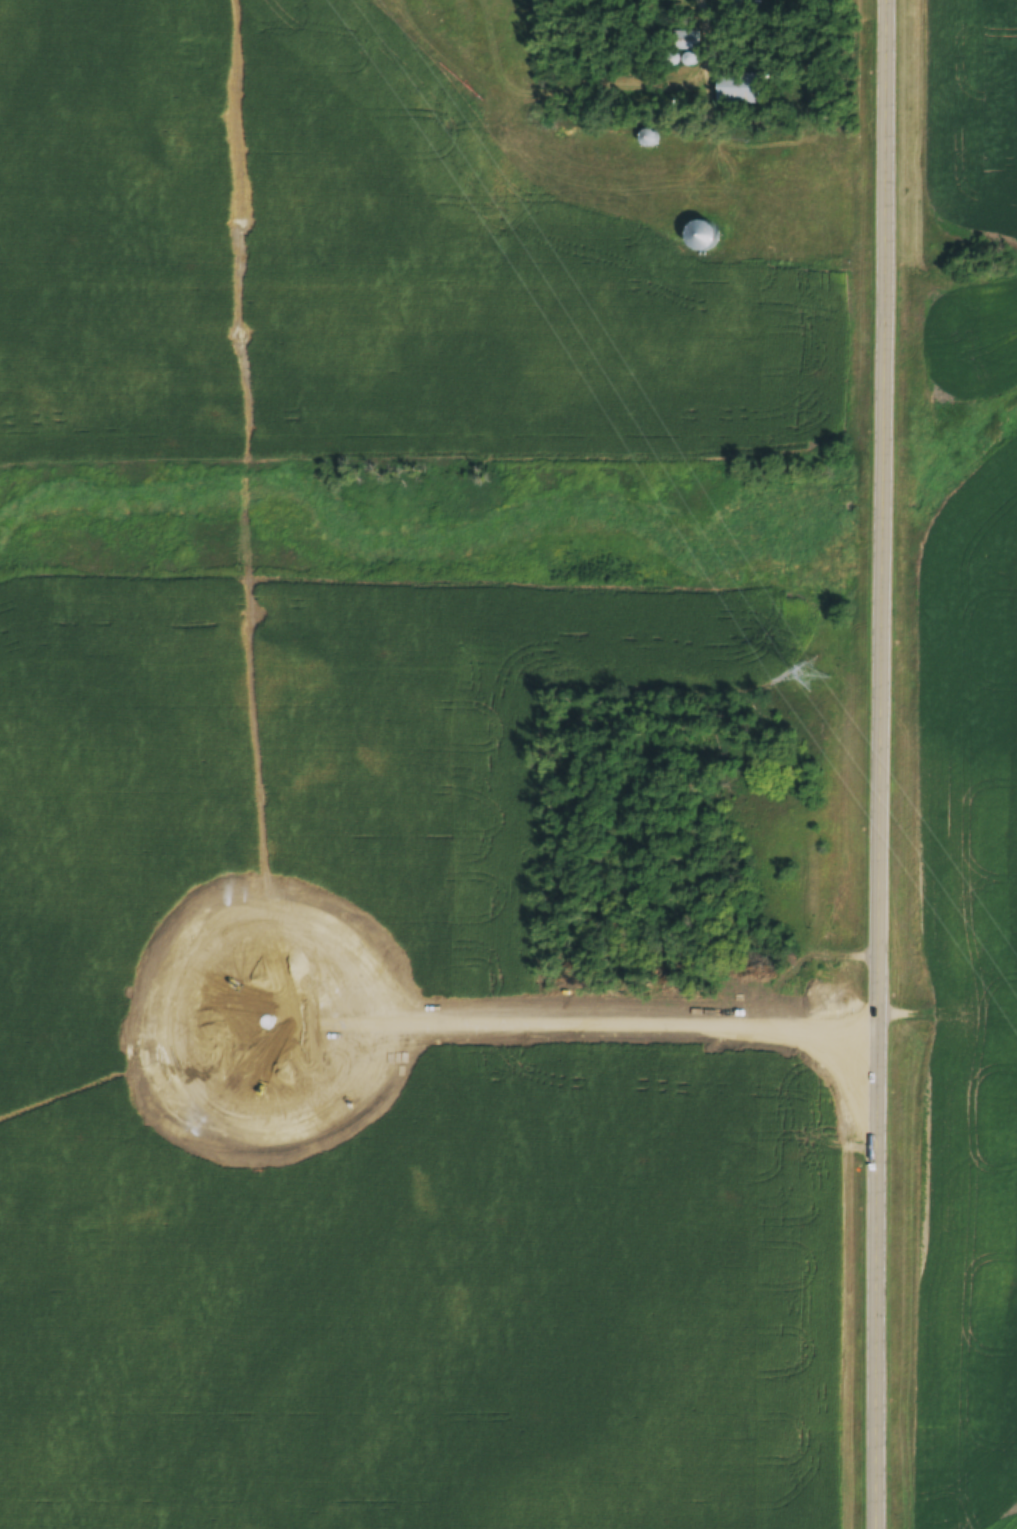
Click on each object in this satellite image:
building: (681, 40)
building: (738, 89)
building: (701, 236)
power tower: (801, 674)
road: (921, 764)
wind turbine: (268, 1021)

